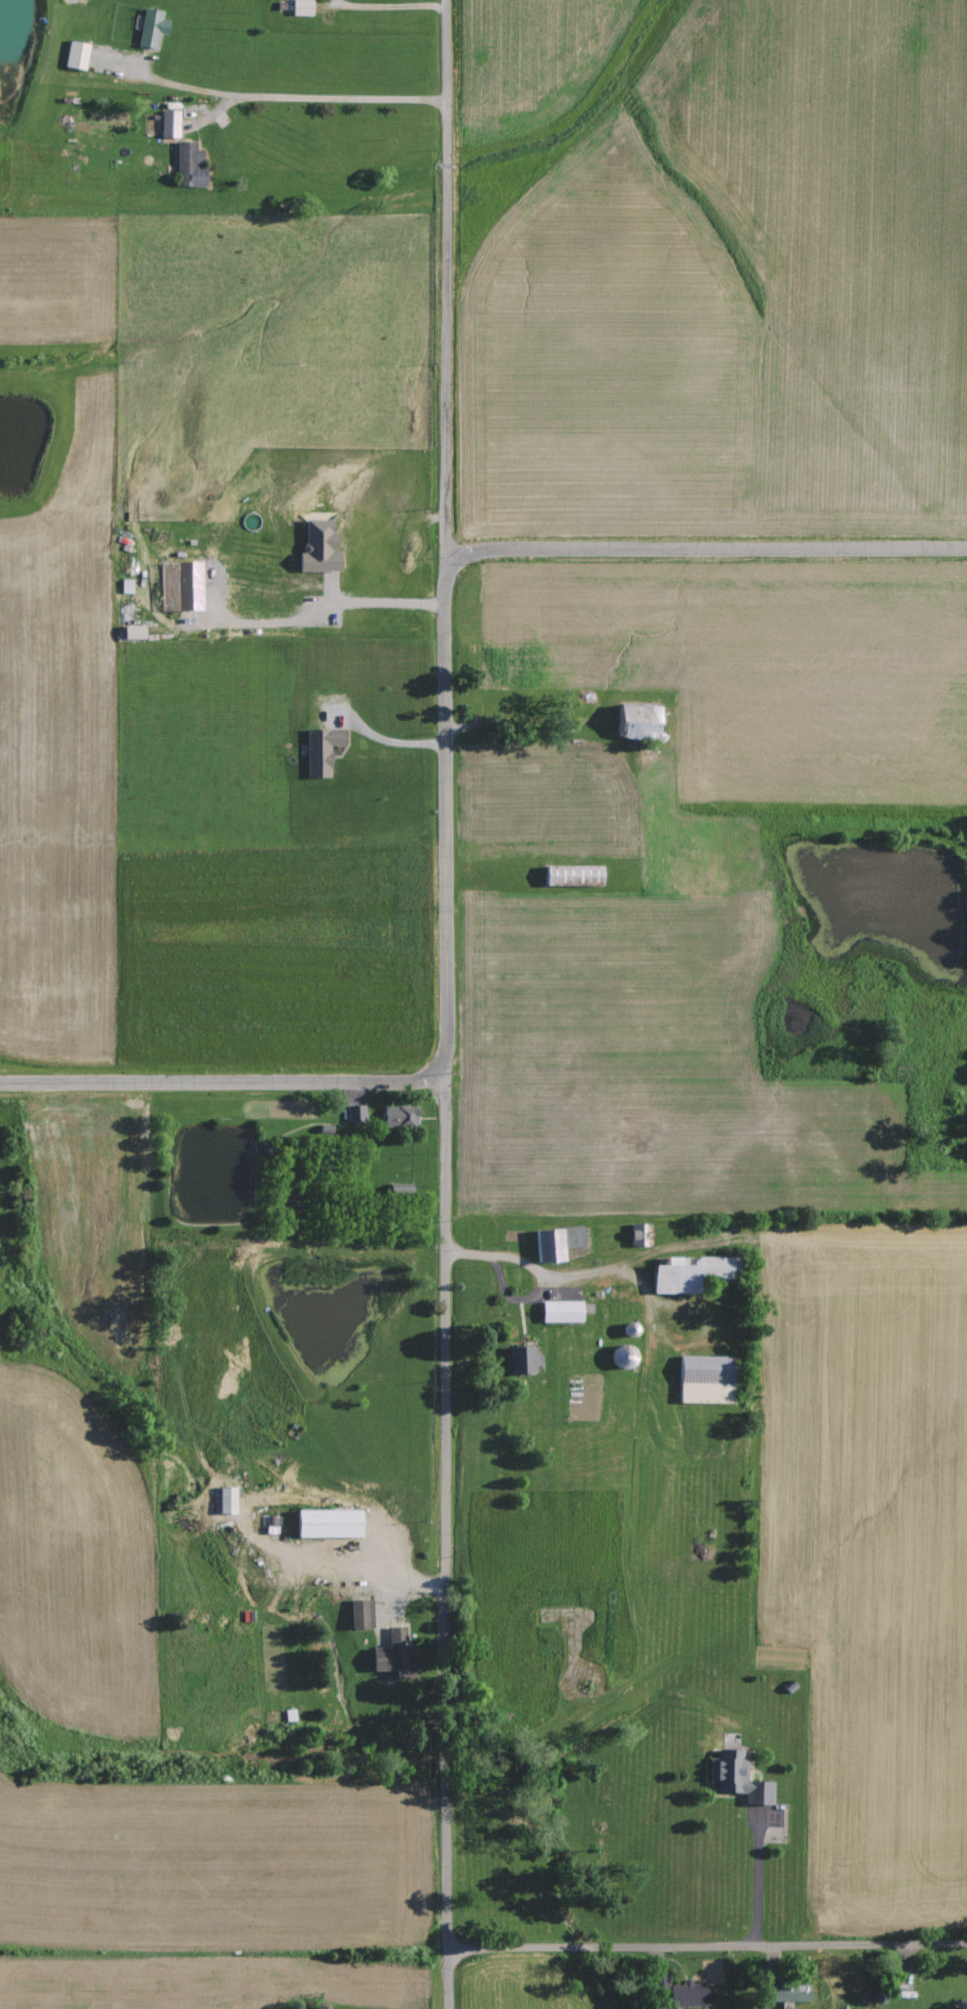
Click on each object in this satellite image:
building: (301, 7)
road: (377, 9)
building: (151, 28)
building: (76, 55)
road: (291, 102)
building: (169, 124)
building: (189, 166)
road: (442, 279)
building: (318, 548)
road: (703, 555)
building: (126, 586)
building: (188, 586)
building: (133, 633)
building: (638, 722)
road: (517, 731)
building: (321, 751)
road: (434, 822)
building: (573, 876)
road: (220, 1088)
building: (355, 1114)
building: (400, 1116)
building: (634, 1234)
building: (556, 1242)
road: (468, 1259)
road: (534, 1273)
building: (691, 1273)
building: (561, 1311)
building: (523, 1359)
building: (706, 1379)
building: (329, 1523)
road: (450, 1547)
building: (361, 1614)
building: (394, 1651)
building: (738, 1778)
road: (763, 1877)
road: (709, 1946)
building: (789, 1993)
building: (690, 1994)

